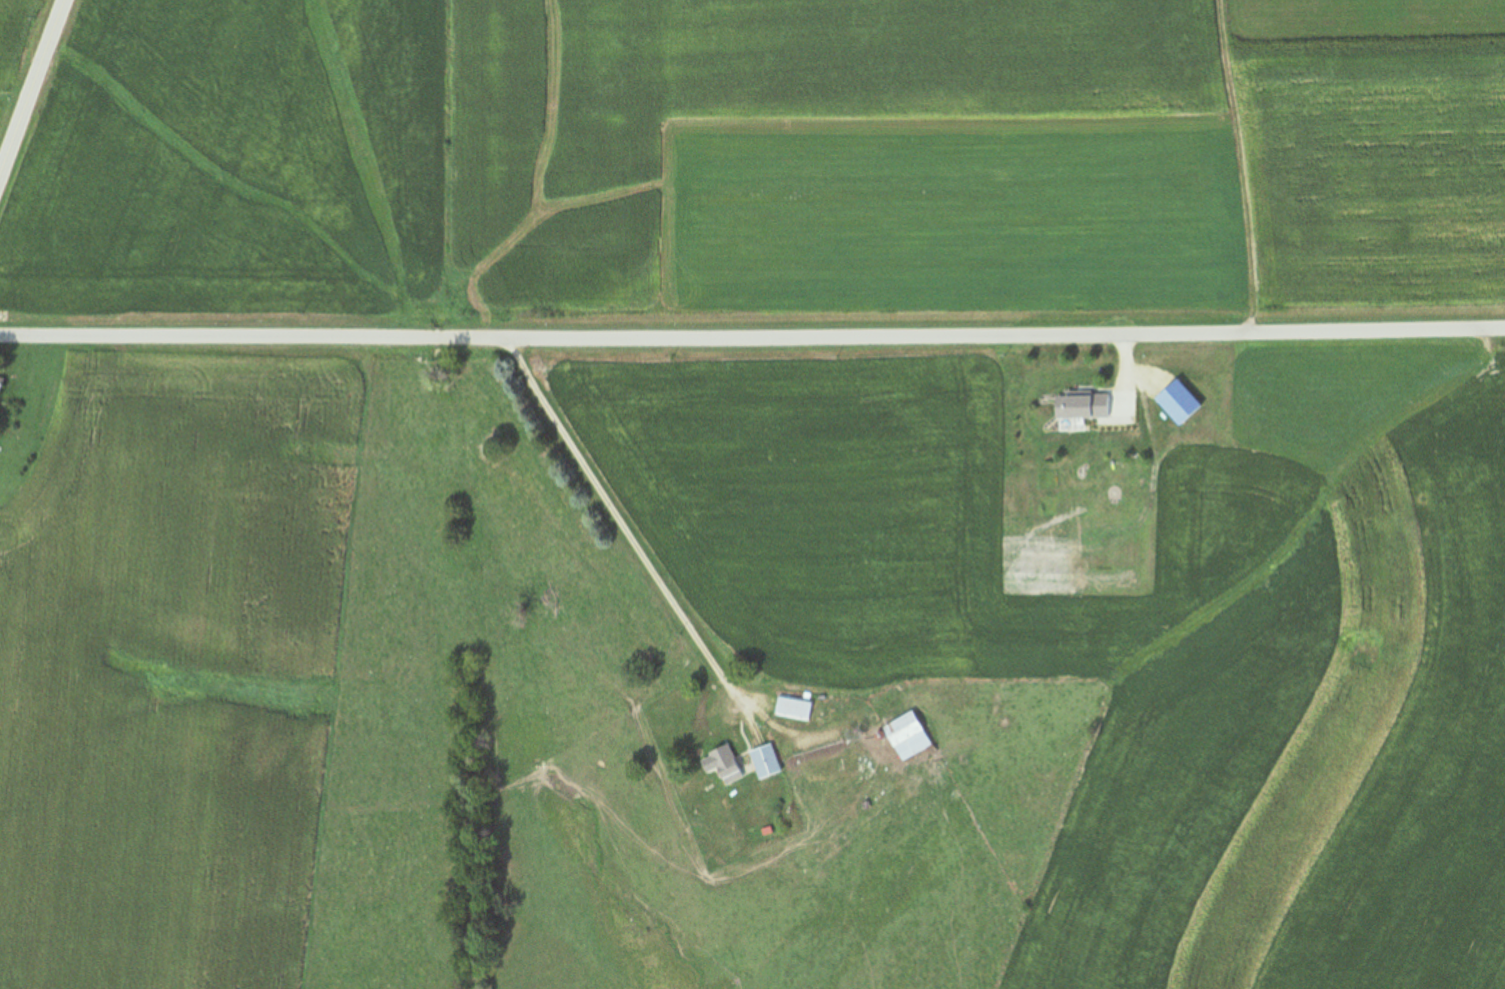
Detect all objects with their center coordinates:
road: (32, 89)
road: (752, 335)
building: (1, 383)
building: (1081, 406)
road: (649, 582)
building: (793, 708)
building: (907, 736)
building: (765, 761)
building: (726, 764)

